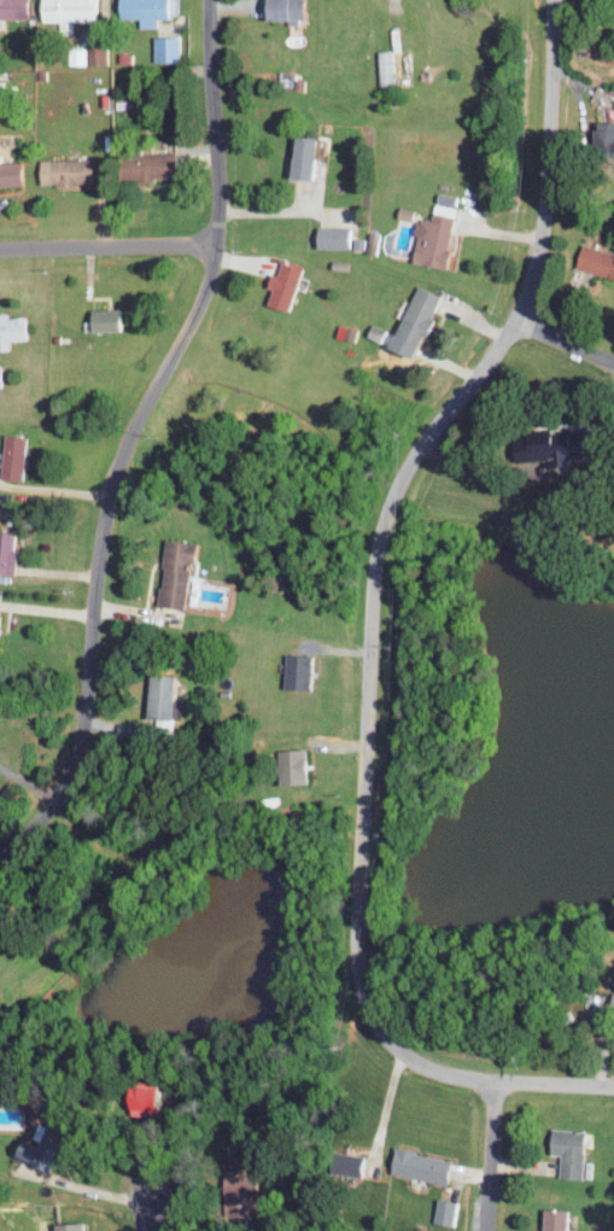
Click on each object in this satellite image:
building: (12, 8)
building: (69, 10)
building: (142, 10)
building: (279, 10)
building: (163, 47)
building: (77, 54)
building: (382, 66)
building: (601, 134)
building: (297, 156)
building: (142, 165)
building: (63, 171)
building: (8, 174)
building: (445, 206)
road: (279, 212)
building: (331, 237)
building: (431, 239)
road: (110, 247)
building: (595, 261)
building: (280, 286)
building: (414, 315)
building: (99, 319)
building: (11, 328)
road: (563, 340)
road: (135, 434)
building: (11, 456)
road: (55, 489)
building: (6, 552)
building: (172, 573)
road: (48, 609)
road: (380, 619)
building: (293, 671)
building: (156, 695)
building: (288, 766)
building: (610, 998)
road: (385, 1108)
building: (565, 1151)
road: (492, 1157)
building: (343, 1163)
building: (416, 1166)
building: (442, 1210)
road: (147, 1215)
building: (550, 1219)
building: (65, 1226)

